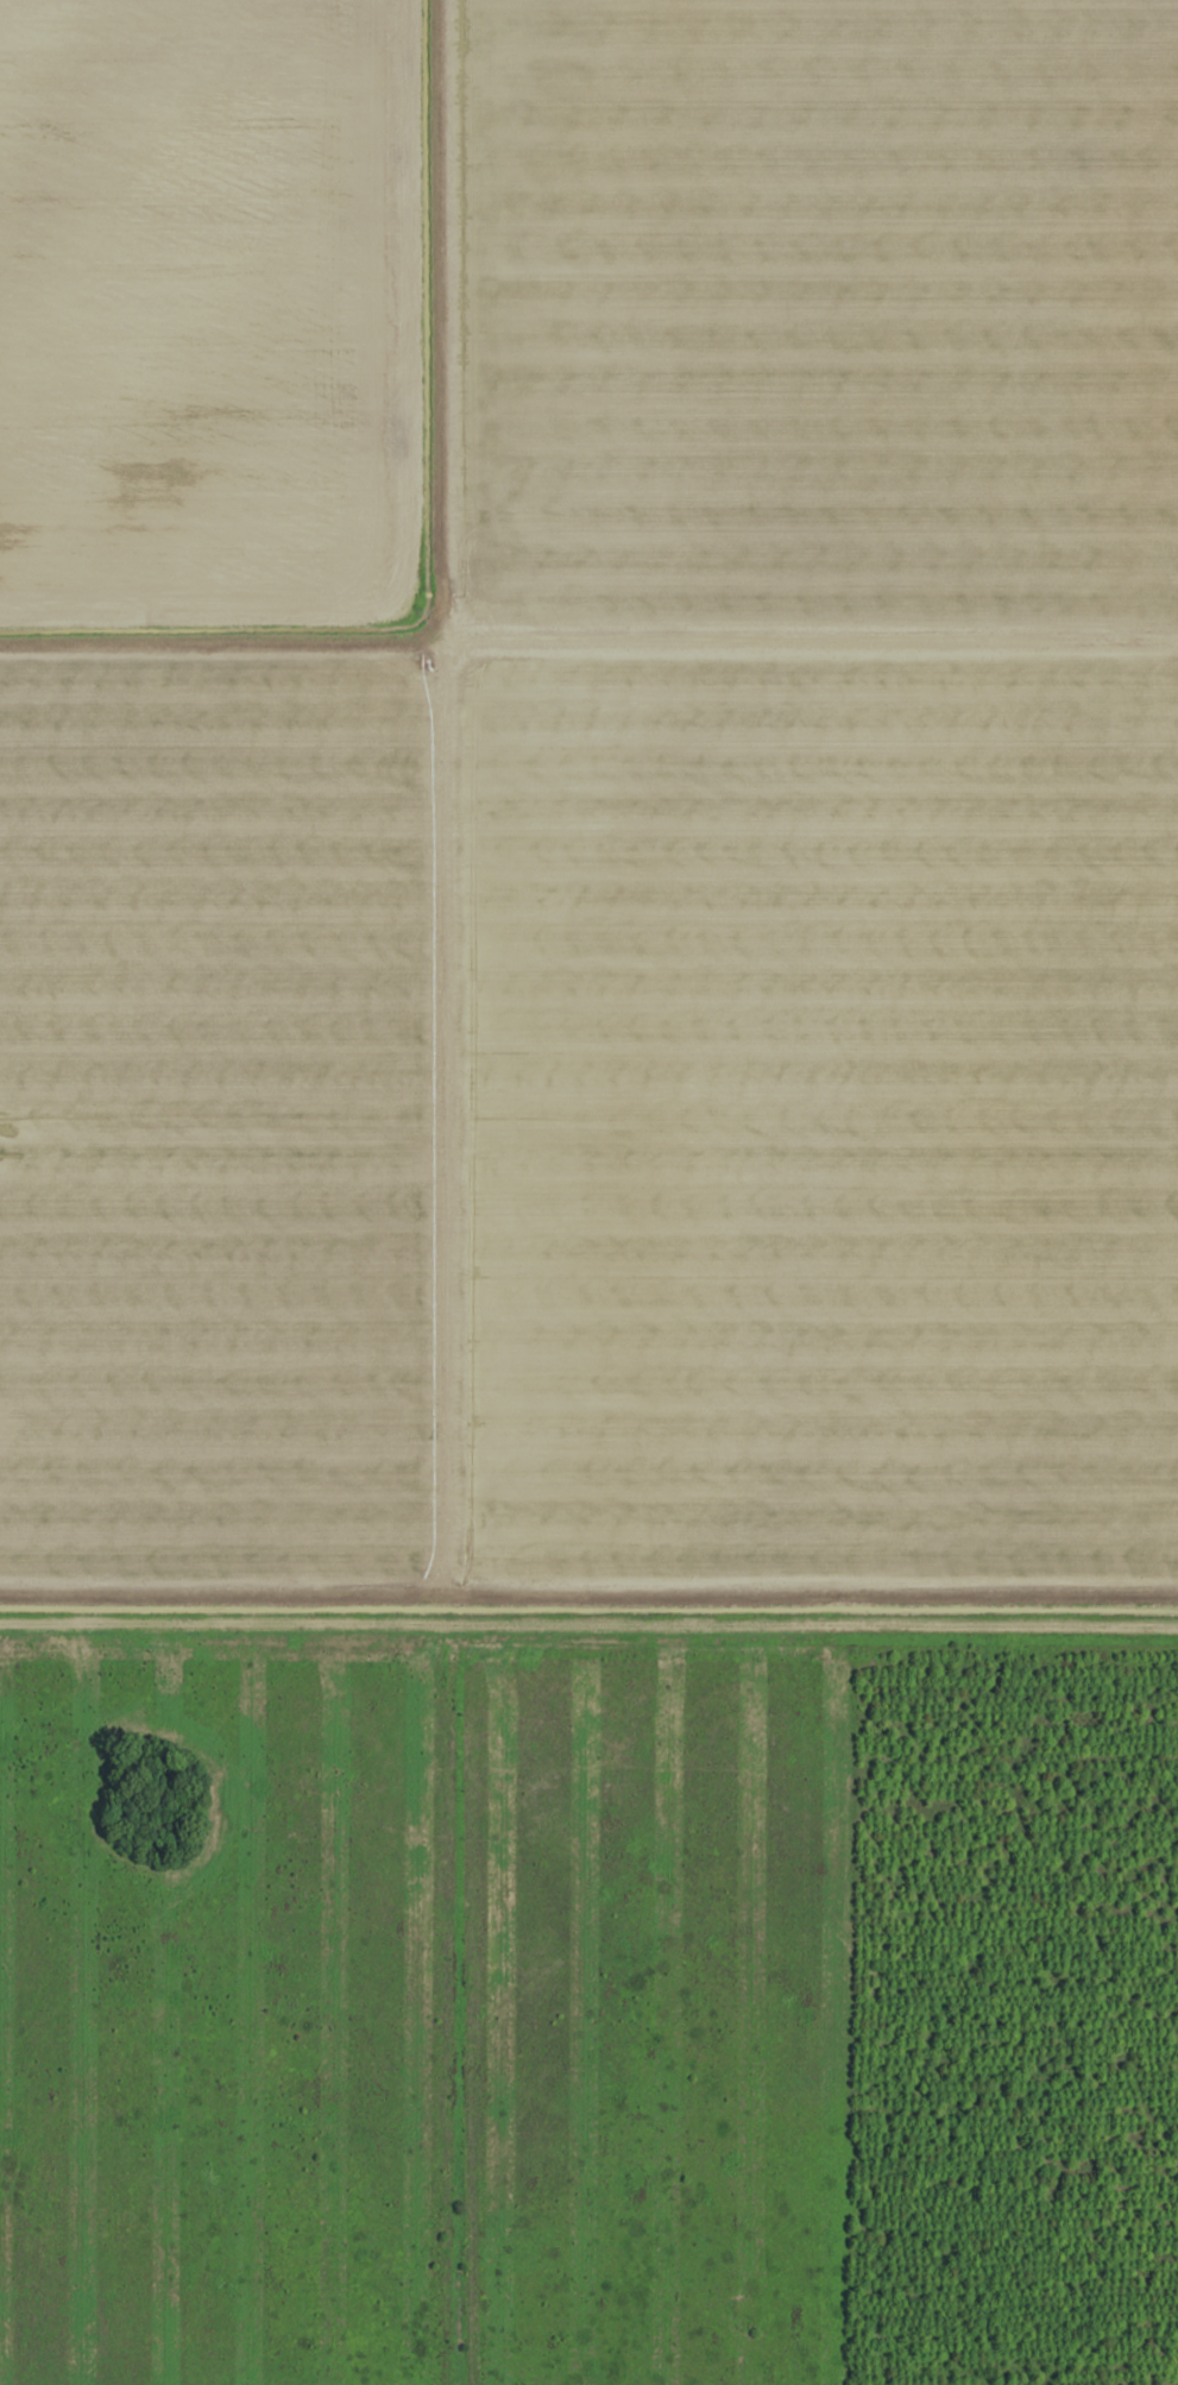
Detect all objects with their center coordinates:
road: (588, 1649)

